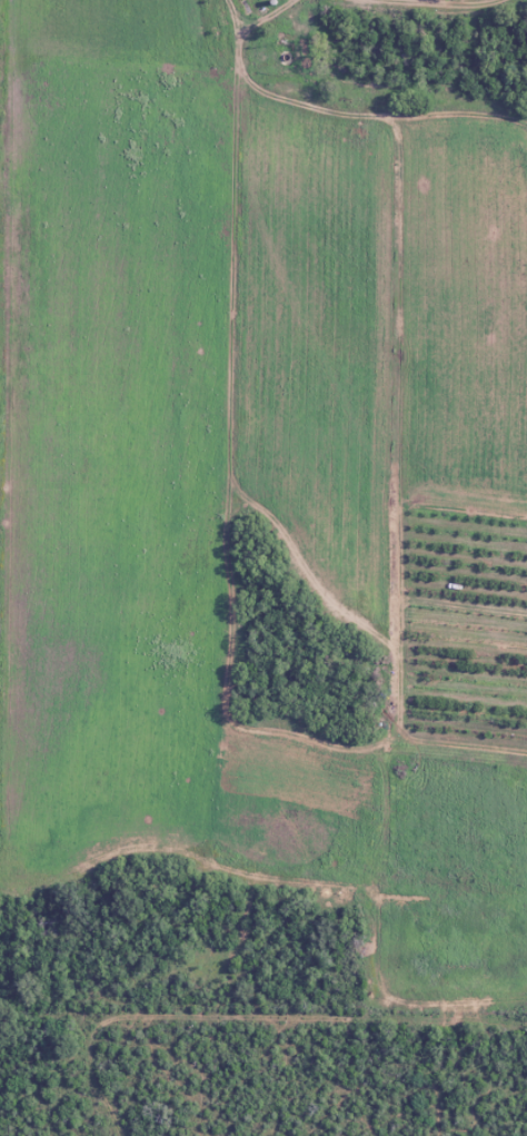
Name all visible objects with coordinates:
road: (449, 0)
road: (252, 26)

